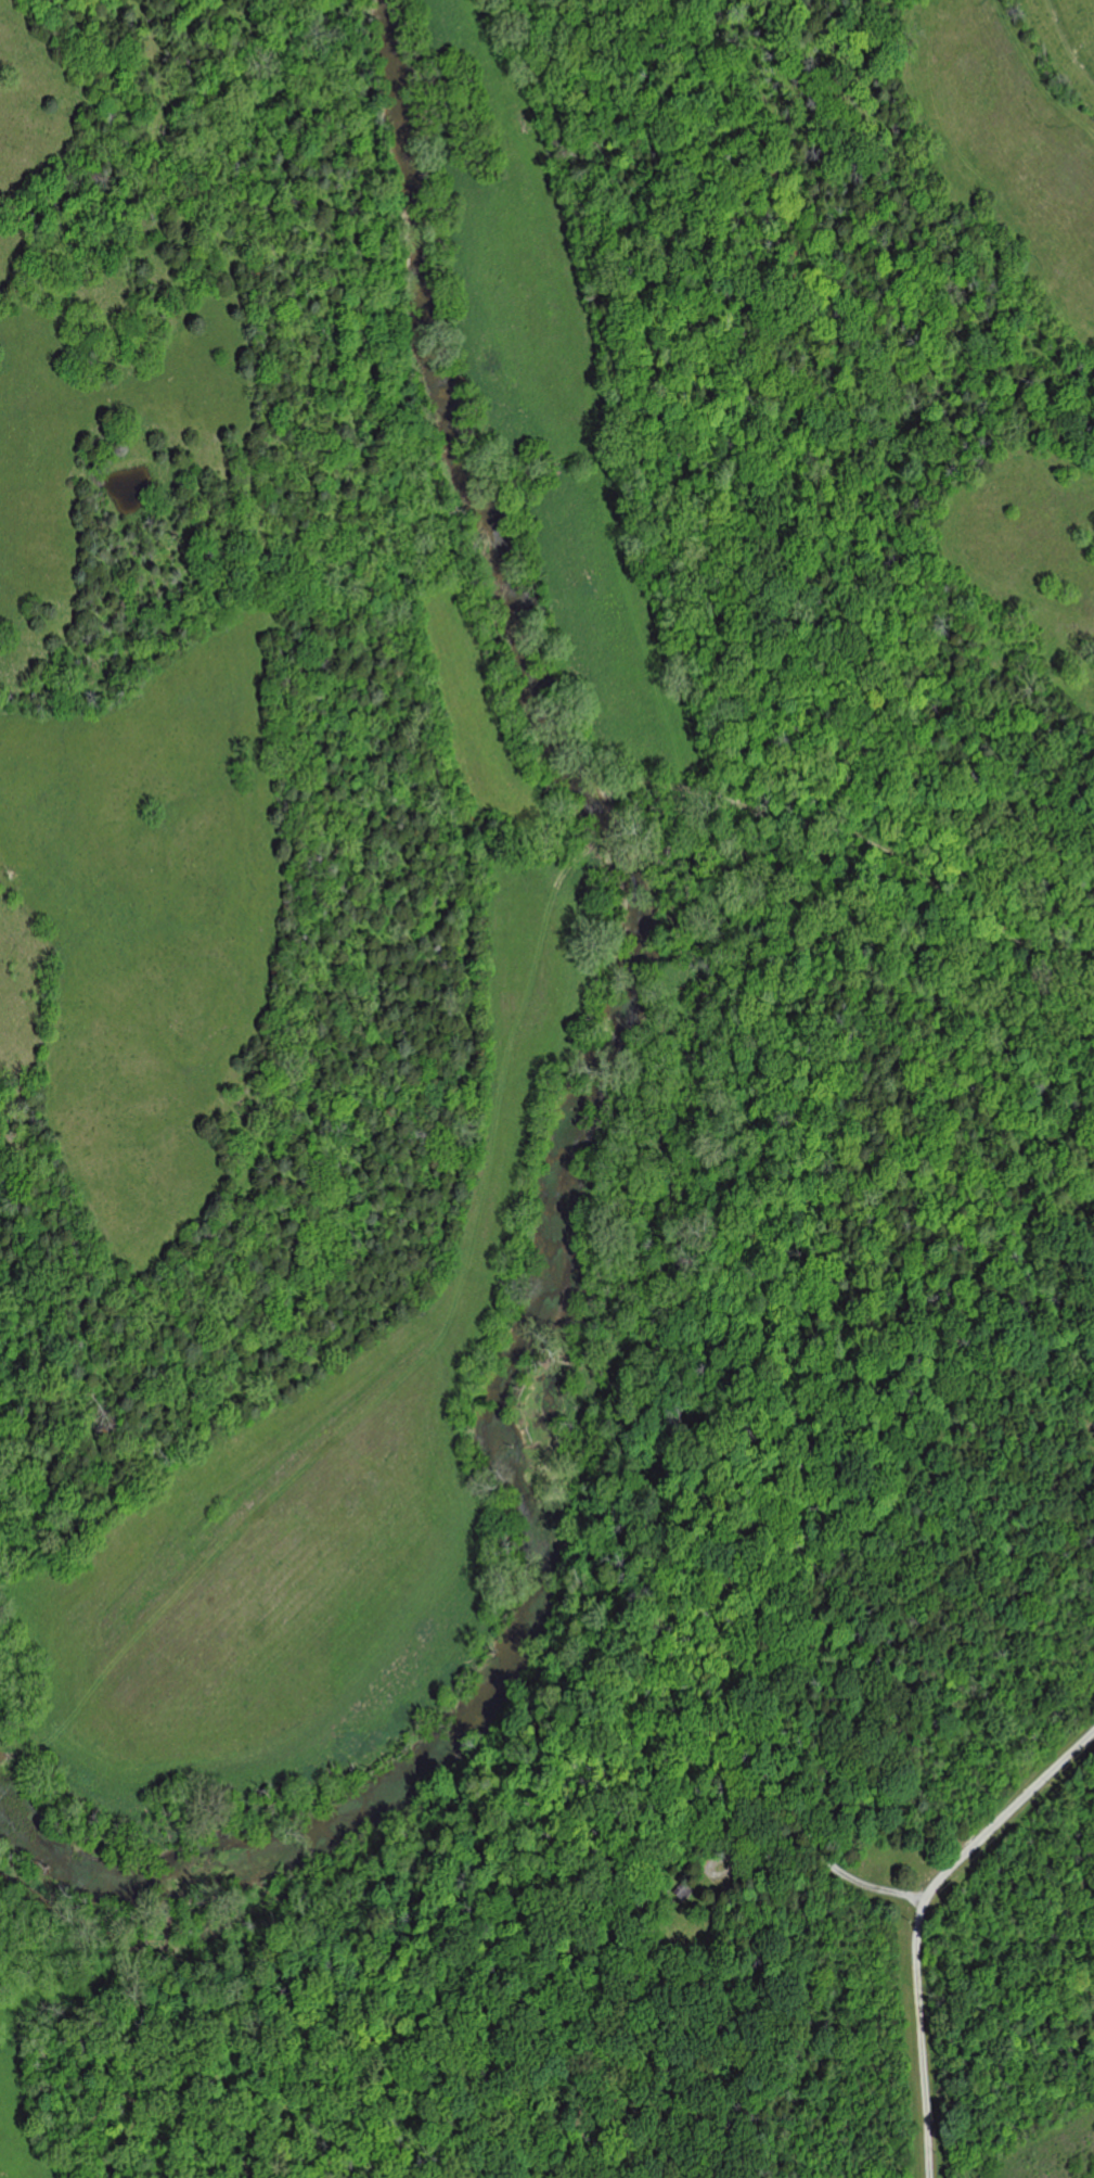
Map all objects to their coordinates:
road: (919, 1921)

